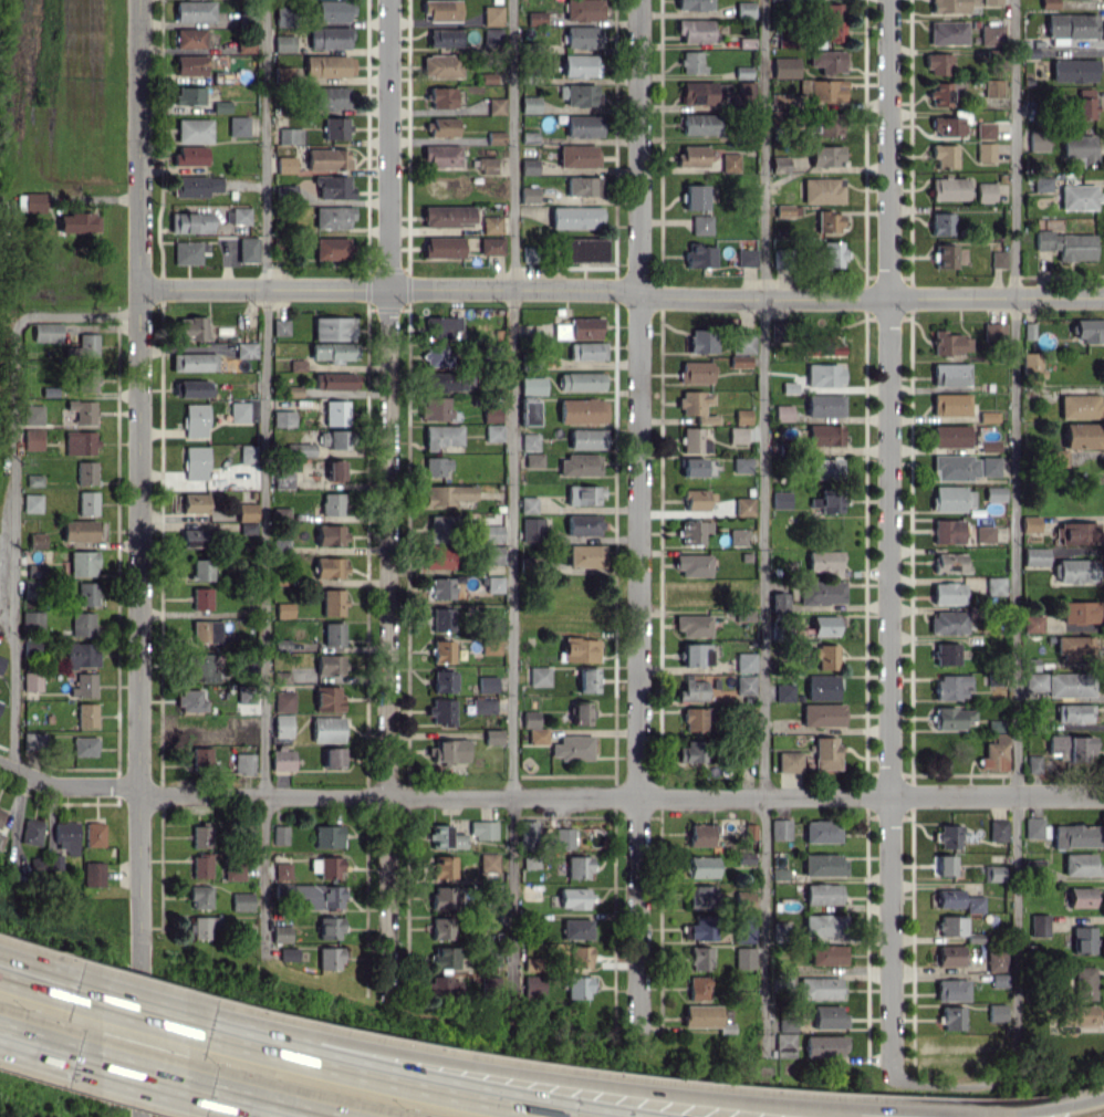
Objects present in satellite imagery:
building: (991, 1)
building: (1048, 3)
building: (694, 4)
building: (948, 6)
building: (743, 9)
building: (331, 10)
building: (441, 10)
building: (583, 10)
building: (194, 11)
building: (491, 14)
building: (281, 15)
building: (535, 18)
building: (827, 22)
building: (1070, 25)
building: (692, 31)
building: (947, 32)
building: (990, 34)
building: (582, 36)
building: (188, 38)
building: (329, 38)
building: (444, 38)
building: (491, 38)
building: (283, 43)
building: (827, 61)
building: (691, 62)
building: (937, 63)
building: (189, 65)
building: (441, 65)
building: (579, 65)
building: (327, 66)
building: (784, 66)
building: (1072, 70)
building: (744, 87)
building: (992, 87)
building: (821, 91)
building: (697, 93)
building: (939, 93)
building: (186, 94)
building: (581, 94)
building: (330, 97)
building: (441, 97)
building: (779, 100)
building: (530, 104)
building: (1083, 104)
building: (496, 105)
building: (220, 106)
building: (699, 124)
building: (823, 125)
building: (946, 125)
building: (238, 126)
building: (583, 126)
building: (335, 127)
building: (442, 127)
building: (192, 131)
building: (985, 131)
building: (289, 135)
building: (496, 137)
building: (1037, 139)
road: (138, 144)
building: (1079, 148)
building: (985, 152)
building: (189, 155)
building: (577, 155)
building: (691, 155)
building: (944, 155)
building: (441, 156)
building: (327, 158)
building: (729, 161)
building: (285, 164)
building: (486, 165)
building: (529, 166)
building: (1041, 184)
building: (196, 185)
building: (583, 186)
building: (334, 187)
building: (948, 188)
building: (821, 190)
building: (985, 191)
building: (529, 195)
building: (694, 196)
building: (1076, 197)
building: (34, 202)
building: (787, 210)
building: (240, 215)
building: (447, 216)
building: (332, 217)
building: (575, 217)
building: (827, 221)
building: (77, 222)
building: (189, 222)
building: (940, 223)
building: (491, 225)
building: (701, 225)
building: (1065, 244)
building: (491, 246)
building: (442, 247)
building: (332, 248)
building: (247, 249)
building: (583, 249)
building: (189, 251)
building: (832, 254)
building: (944, 254)
building: (699, 255)
building: (746, 258)
building: (998, 259)
road: (621, 290)
building: (280, 326)
building: (442, 326)
building: (191, 327)
building: (585, 327)
building: (333, 328)
building: (993, 330)
building: (1089, 330)
building: (561, 331)
building: (45, 332)
building: (700, 341)
building: (742, 343)
building: (949, 343)
building: (87, 345)
building: (821, 346)
building: (246, 349)
building: (586, 351)
building: (333, 352)
building: (435, 356)
building: (739, 361)
building: (194, 362)
building: (298, 365)
building: (1031, 366)
building: (695, 372)
building: (949, 374)
building: (823, 375)
building: (84, 378)
building: (334, 380)
building: (580, 380)
building: (440, 382)
building: (532, 384)
building: (189, 388)
building: (949, 404)
building: (696, 405)
building: (824, 405)
building: (1079, 406)
building: (436, 409)
building: (82, 410)
building: (528, 410)
building: (582, 410)
building: (239, 411)
building: (335, 413)
building: (782, 413)
building: (32, 415)
building: (491, 416)
building: (741, 416)
building: (988, 416)
building: (282, 418)
building: (195, 420)
building: (493, 432)
building: (737, 435)
building: (824, 435)
building: (1082, 435)
building: (441, 436)
building: (950, 436)
building: (586, 438)
building: (32, 439)
building: (333, 439)
building: (692, 440)
building: (80, 441)
building: (530, 441)
building: (988, 446)
building: (247, 453)
building: (534, 459)
building: (196, 462)
building: (580, 464)
building: (741, 464)
building: (436, 466)
building: (989, 466)
building: (698, 467)
building: (955, 467)
building: (825, 468)
building: (334, 469)
building: (86, 472)
building: (282, 478)
road: (264, 479)
road: (14, 484)
building: (993, 493)
building: (447, 494)
building: (584, 494)
road: (513, 498)
building: (698, 499)
building: (780, 499)
building: (951, 499)
road: (388, 501)
building: (32, 502)
building: (87, 502)
building: (827, 502)
building: (194, 503)
building: (332, 503)
building: (529, 504)
building: (743, 505)
building: (246, 512)
road: (638, 514)
building: (1029, 523)
building: (583, 524)
building: (439, 528)
building: (532, 529)
road: (763, 529)
building: (79, 530)
building: (695, 531)
building: (947, 531)
building: (490, 533)
building: (1075, 533)
building: (331, 534)
building: (983, 534)
building: (738, 536)
building: (194, 537)
building: (37, 540)
road: (888, 542)
building: (494, 554)
building: (585, 555)
building: (438, 556)
building: (1034, 556)
building: (825, 562)
building: (948, 562)
building: (83, 563)
building: (694, 564)
power substation: (2, 566)
building: (330, 567)
building: (201, 568)
building: (40, 570)
building: (1076, 571)
building: (494, 584)
building: (994, 585)
building: (440, 587)
building: (822, 592)
building: (947, 593)
building: (85, 594)
building: (201, 598)
building: (779, 601)
road: (1014, 601)
building: (333, 602)
building: (284, 609)
building: (1080, 612)
building: (442, 619)
building: (32, 620)
building: (948, 622)
building: (1032, 623)
building: (83, 624)
building: (694, 625)
building: (824, 625)
building: (208, 631)
building: (333, 633)
building: (491, 646)
building: (1075, 647)
building: (581, 649)
building: (444, 650)
building: (945, 653)
building: (695, 654)
building: (81, 655)
building: (825, 656)
building: (746, 661)
building: (1, 662)
building: (330, 664)
building: (1031, 666)
building: (200, 668)
building: (540, 676)
building: (281, 677)
building: (32, 680)
building: (589, 680)
building: (444, 681)
building: (1034, 681)
building: (488, 683)
building: (84, 685)
building: (744, 685)
building: (1069, 685)
building: (822, 687)
building: (951, 687)
building: (692, 690)
building: (784, 690)
building: (329, 698)
building: (191, 700)
building: (284, 701)
road: (138, 702)
building: (0, 703)
building: (249, 704)
building: (485, 706)
building: (442, 710)
building: (583, 712)
building: (1073, 712)
building: (87, 714)
building: (822, 714)
building: (951, 718)
building: (531, 719)
building: (694, 719)
building: (283, 724)
building: (327, 729)
building: (538, 735)
building: (494, 737)
building: (34, 739)
building: (85, 745)
building: (573, 747)
building: (1071, 748)
building: (452, 750)
building: (692, 751)
building: (826, 752)
building: (994, 753)
building: (201, 755)
building: (333, 756)
building: (283, 759)
building: (789, 761)
building: (244, 763)
building: (1035, 763)
road: (66, 786)
road: (621, 796)
building: (1, 814)
building: (1034, 827)
building: (780, 828)
building: (483, 829)
building: (997, 829)
building: (250, 831)
building: (822, 831)
building: (32, 832)
building: (530, 833)
building: (94, 834)
building: (281, 834)
building: (701, 834)
building: (1074, 835)
building: (66, 836)
building: (201, 836)
building: (329, 836)
building: (947, 836)
building: (447, 837)
building: (564, 837)
building: (2, 839)
building: (490, 863)
building: (201, 865)
building: (822, 865)
building: (941, 865)
building: (1079, 865)
building: (327, 866)
building: (445, 866)
building: (702, 866)
building: (580, 867)
building: (283, 870)
building: (235, 871)
building: (992, 873)
building: (94, 874)
building: (822, 894)
building: (313, 895)
building: (701, 896)
building: (200, 897)
building: (444, 897)
building: (1080, 897)
building: (575, 898)
building: (743, 900)
building: (242, 901)
building: (973, 904)
building: (823, 925)
building: (1038, 925)
building: (950, 926)
building: (200, 927)
building: (331, 927)
building: (444, 928)
building: (699, 928)
building: (577, 929)
building: (282, 933)
building: (1082, 939)
building: (289, 953)
building: (826, 954)
building: (949, 954)
building: (446, 957)
building: (580, 957)
building: (331, 958)
building: (700, 958)
building: (742, 958)
building: (994, 960)
building: (532, 963)
road: (35, 980)
building: (998, 980)
building: (1083, 982)
building: (534, 985)
building: (579, 986)
building: (698, 988)
building: (817, 988)
building: (950, 990)
road: (138, 1010)
building: (996, 1012)
building: (701, 1015)
building: (1079, 1015)
building: (827, 1016)
building: (951, 1017)
building: (787, 1025)
building: (784, 1044)
road: (34, 1046)
building: (823, 1046)
road: (504, 1068)
road: (137, 1076)
road: (397, 1077)
road: (254, 1106)
road: (955, 1110)
road: (846, 1113)
park: (150, 1116)

